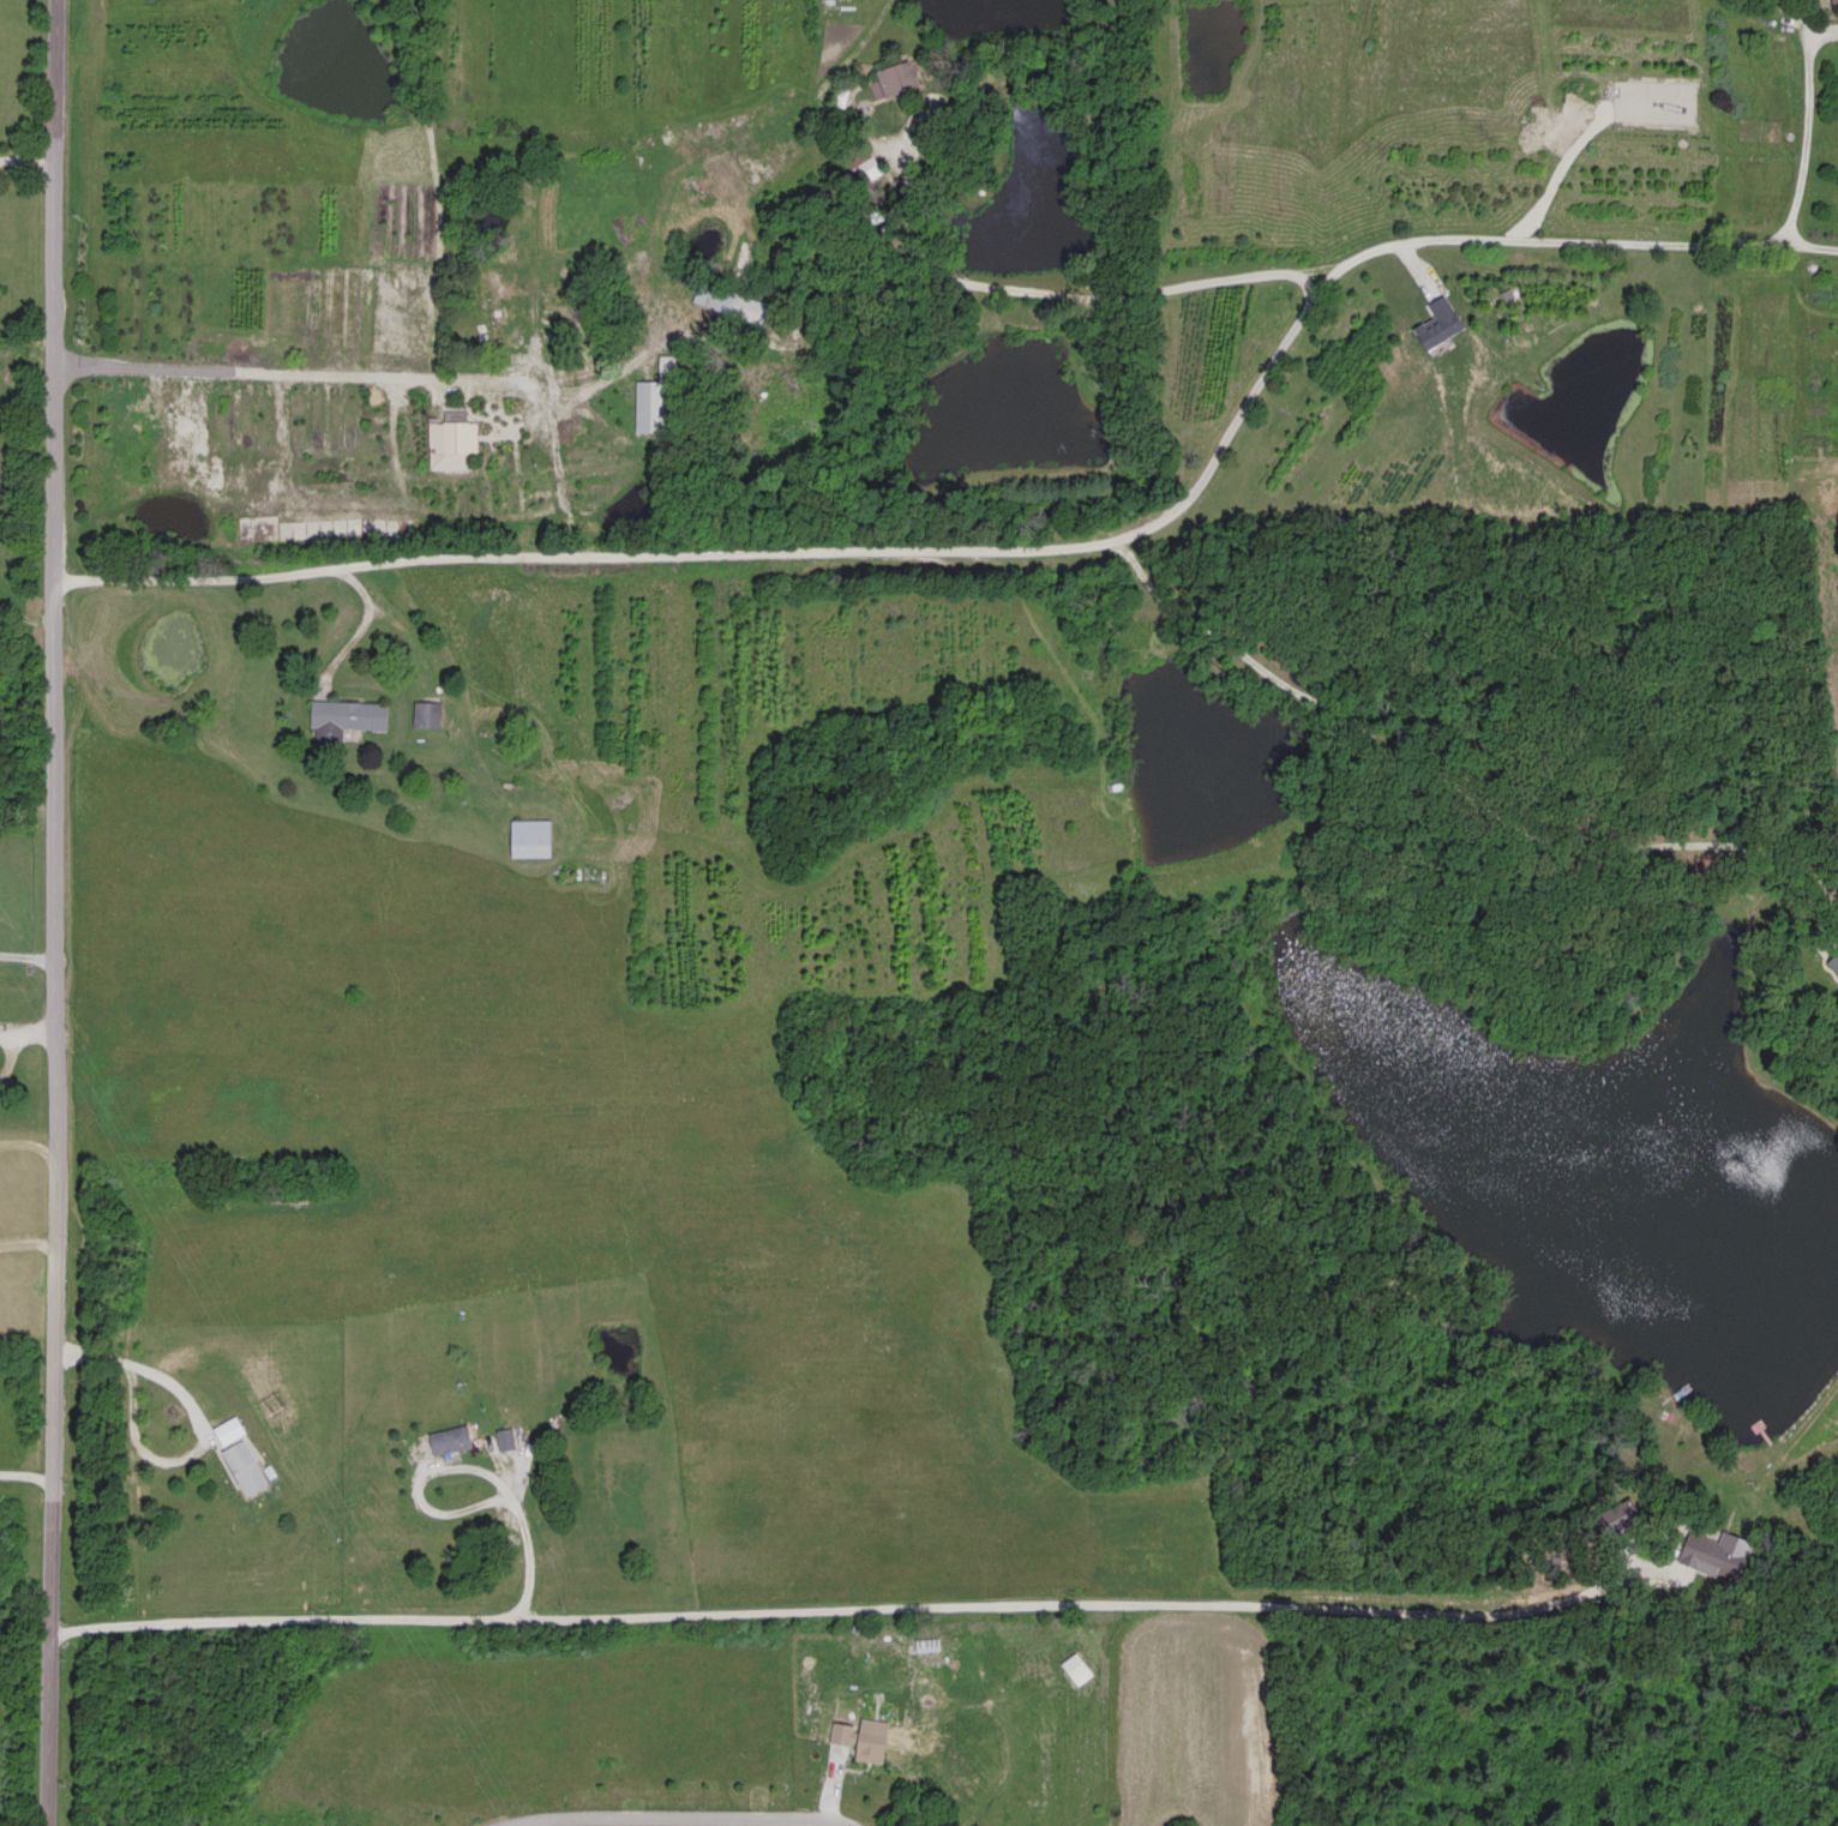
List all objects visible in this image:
road: (1764, 18)
road: (1834, 24)
road: (841, 61)
building: (895, 78)
road: (1806, 126)
road: (985, 136)
road: (24, 157)
road: (905, 200)
building: (743, 256)
road: (1077, 292)
building: (759, 311)
building: (487, 313)
road: (572, 385)
building: (657, 396)
building: (454, 436)
road: (569, 438)
road: (555, 465)
road: (1017, 546)
road: (358, 630)
building: (427, 710)
building: (347, 715)
road: (1460, 787)
building: (530, 835)
road: (54, 913)
road: (26, 956)
building: (1836, 966)
road: (26, 1028)
road: (26, 1141)
road: (26, 1239)
road: (128, 1408)
building: (454, 1437)
building: (241, 1453)
road: (23, 1474)
road: (517, 1531)
building: (1717, 1554)
road: (937, 1606)
road: (672, 1813)

